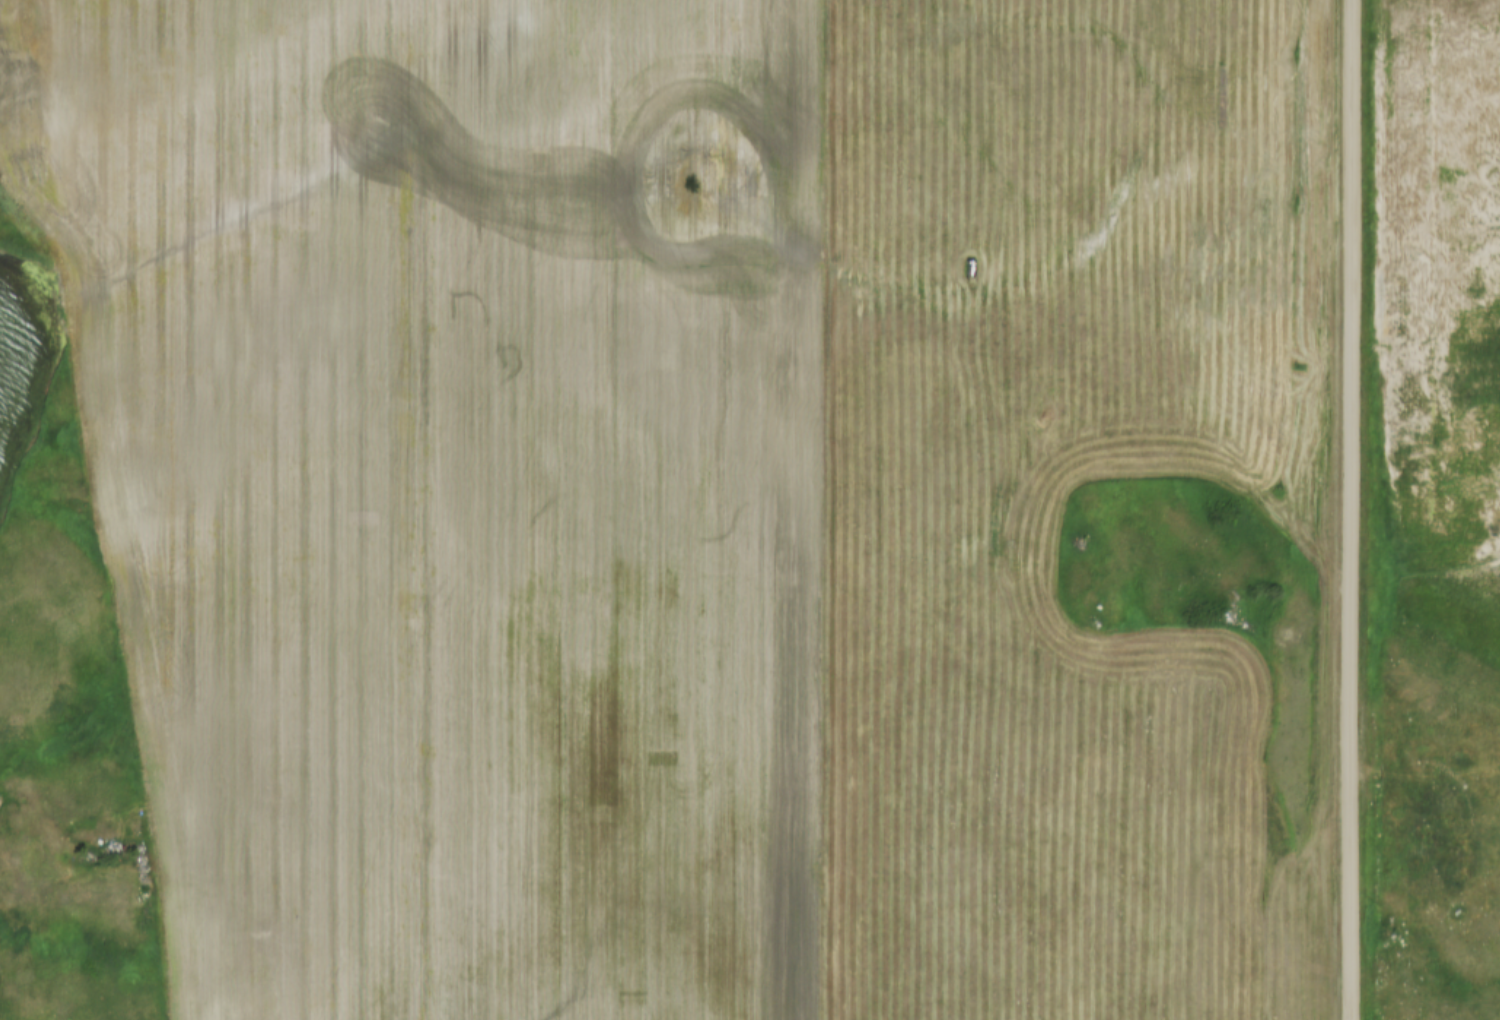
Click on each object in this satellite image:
road: (1354, 509)

